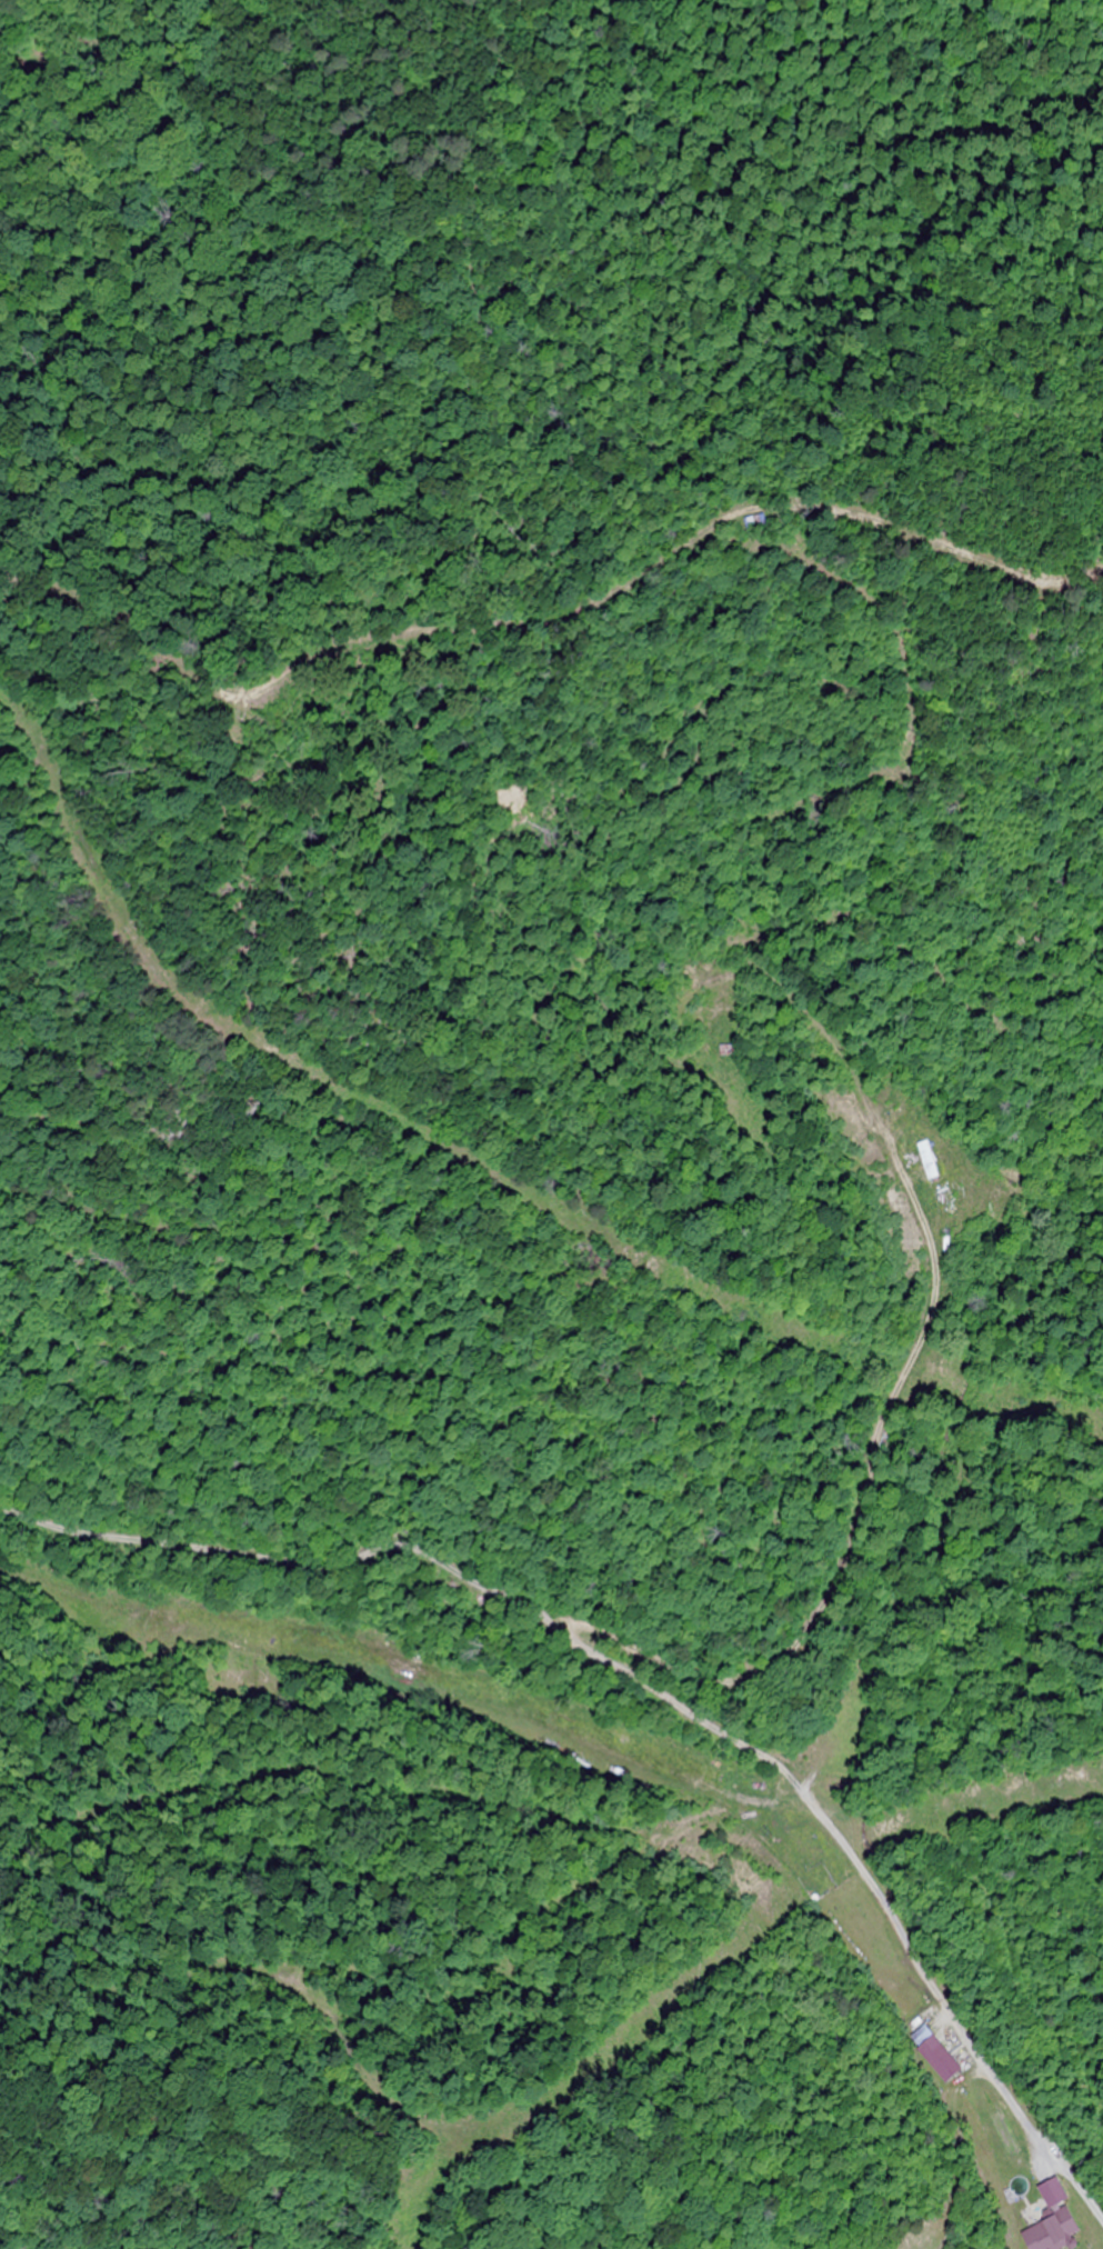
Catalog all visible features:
building: (1047, 2221)

